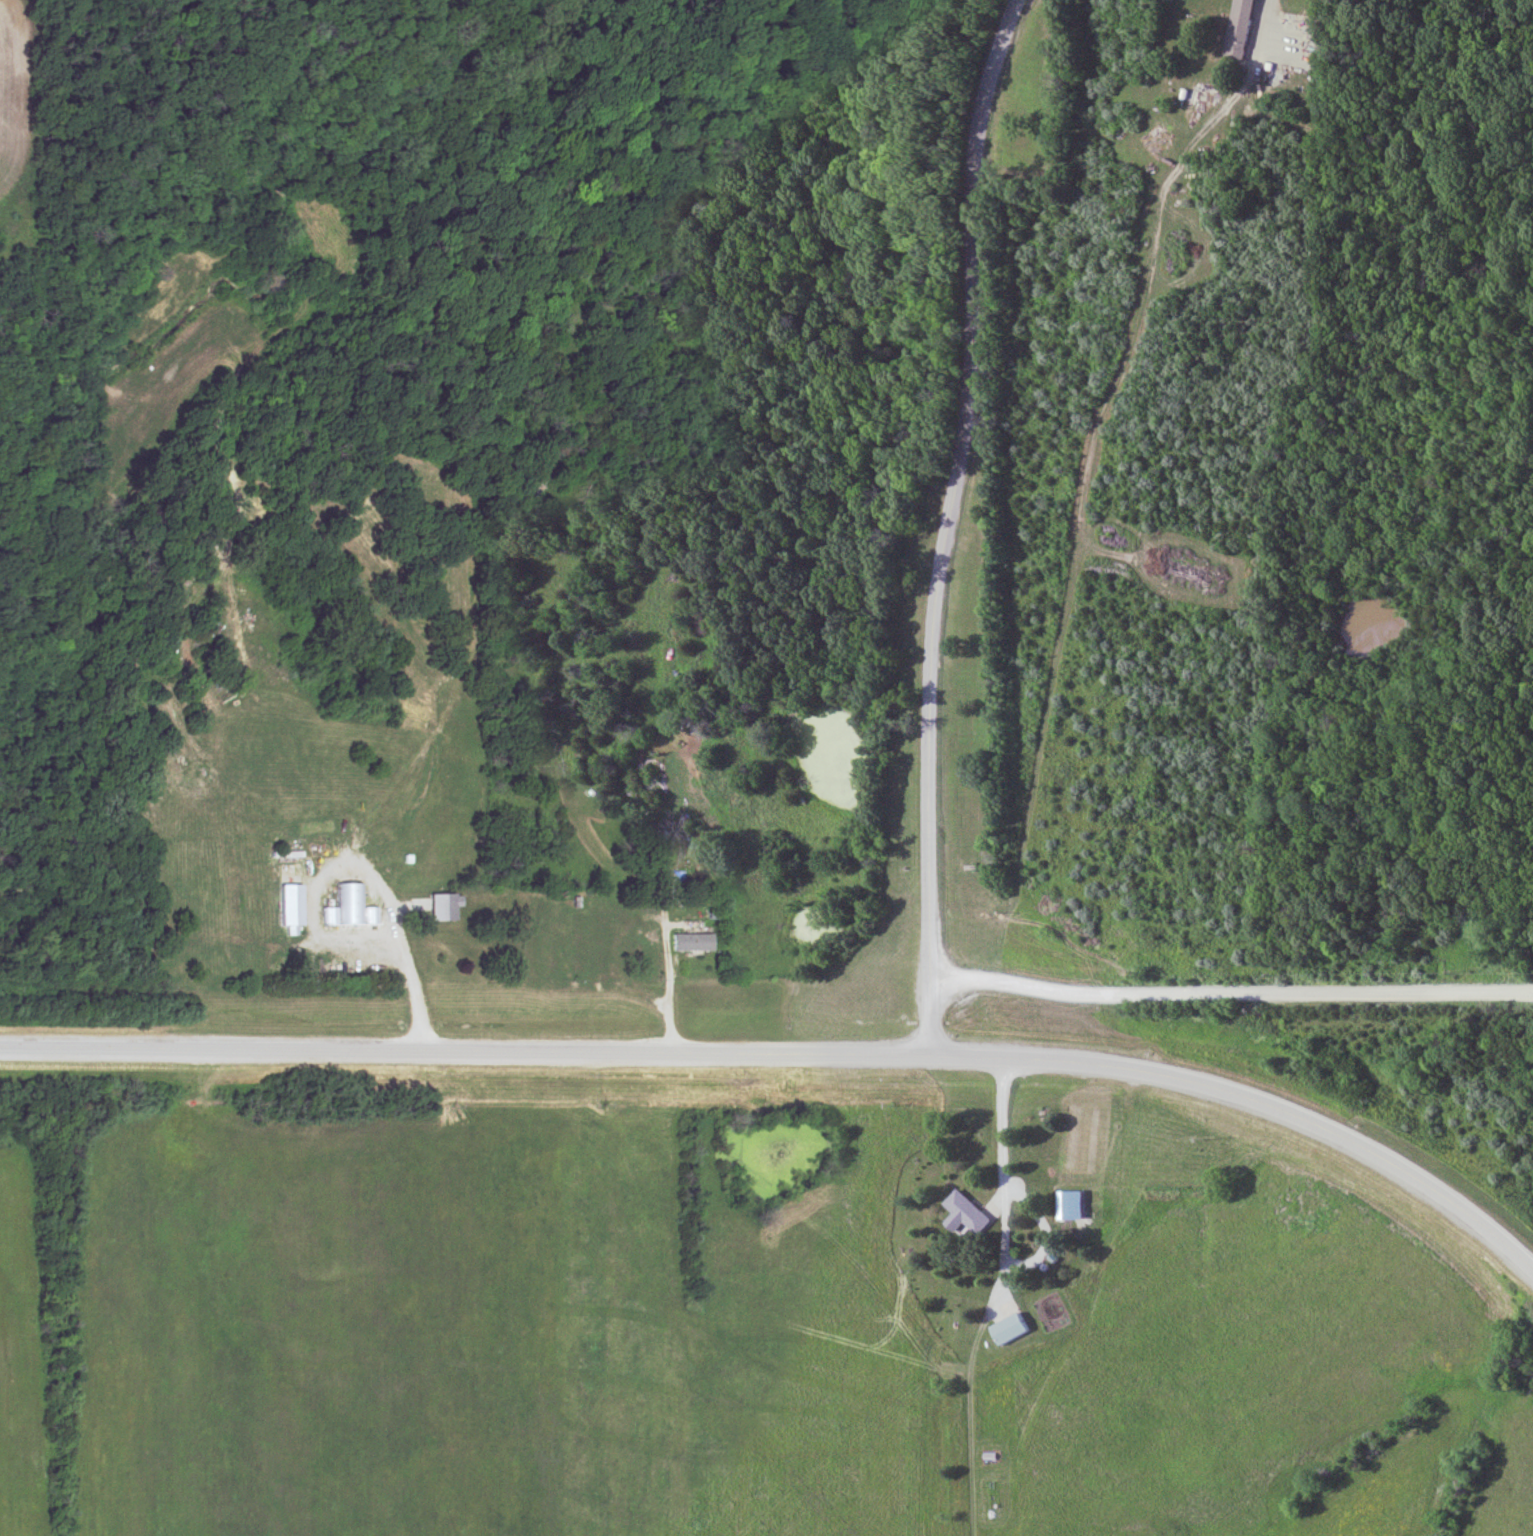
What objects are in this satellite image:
road: (1267, 11)
building: (1239, 29)
road: (890, 53)
road: (296, 70)
park: (764, 480)
road: (951, 525)
road: (970, 526)
building: (294, 906)
building: (350, 906)
building: (446, 907)
building: (650, 941)
building: (693, 942)
road: (411, 982)
road: (1230, 995)
road: (675, 1032)
road: (794, 1056)
road: (1004, 1122)
building: (1071, 1205)
building: (974, 1216)
road: (1007, 1261)
building: (1011, 1329)

